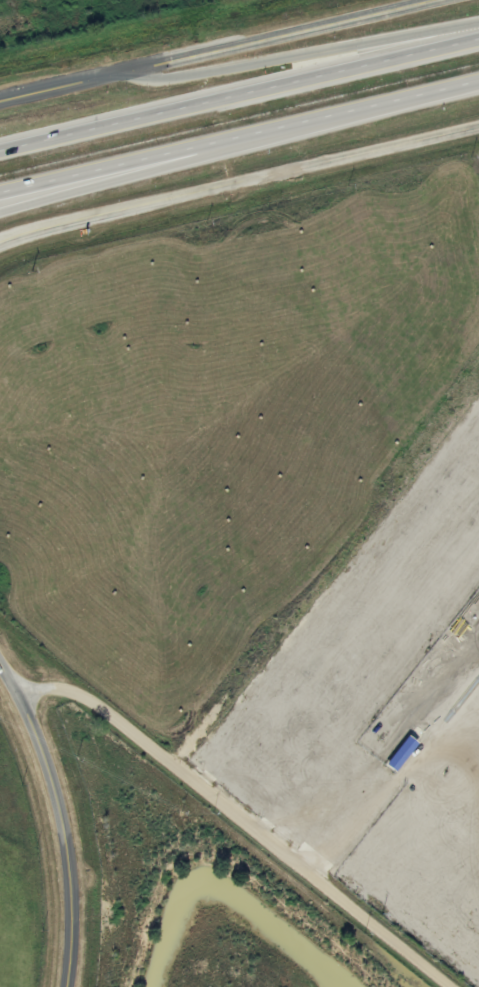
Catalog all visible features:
road: (286, 34)
road: (306, 55)
road: (69, 85)
road: (239, 94)
road: (239, 138)
road: (154, 167)
road: (238, 180)
building: (402, 754)
road: (62, 818)
road: (245, 819)

